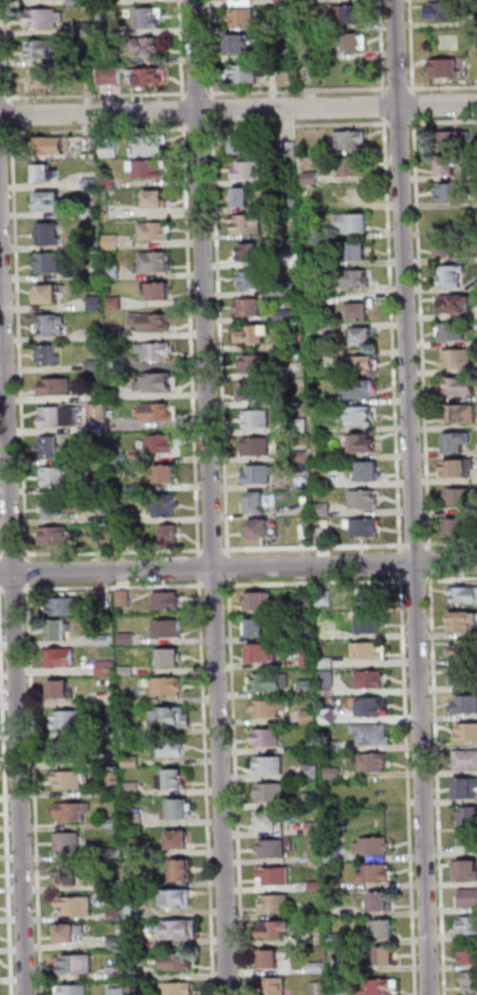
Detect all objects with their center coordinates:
building: (287, 2)
building: (244, 3)
building: (445, 14)
building: (350, 16)
building: (44, 17)
building: (146, 17)
building: (245, 18)
building: (288, 25)
building: (314, 25)
building: (350, 42)
building: (143, 45)
building: (241, 45)
building: (42, 47)
road: (384, 47)
road: (414, 47)
road: (212, 49)
building: (313, 54)
building: (286, 55)
building: (447, 70)
building: (250, 74)
building: (108, 75)
building: (143, 75)
building: (43, 79)
road: (444, 87)
road: (401, 88)
road: (300, 90)
road: (204, 93)
road: (416, 105)
road: (385, 106)
road: (214, 110)
road: (238, 110)
road: (186, 117)
road: (13, 121)
road: (444, 123)
road: (402, 124)
road: (301, 126)
road: (200, 127)
road: (99, 129)
road: (4, 133)
building: (350, 140)
building: (455, 140)
building: (51, 147)
building: (152, 147)
building: (243, 147)
building: (289, 149)
building: (111, 150)
building: (355, 167)
building: (148, 169)
building: (449, 170)
building: (251, 172)
building: (45, 173)
building: (313, 178)
building: (292, 181)
building: (110, 184)
building: (92, 185)
building: (454, 192)
building: (352, 195)
building: (244, 200)
building: (157, 201)
building: (51, 204)
building: (292, 206)
building: (91, 214)
building: (354, 223)
building: (248, 227)
building: (156, 232)
building: (50, 236)
building: (113, 242)
building: (96, 247)
building: (449, 249)
building: (360, 252)
building: (255, 254)
building: (294, 261)
building: (317, 261)
building: (157, 263)
building: (52, 264)
building: (114, 273)
building: (454, 277)
building: (354, 279)
building: (254, 281)
building: (318, 286)
building: (286, 288)
building: (159, 292)
building: (50, 295)
building: (116, 303)
building: (96, 304)
building: (457, 306)
building: (250, 308)
building: (358, 312)
building: (287, 316)
building: (152, 322)
building: (53, 326)
building: (455, 332)
building: (117, 333)
road: (394, 334)
building: (97, 335)
building: (256, 336)
road: (222, 338)
building: (365, 338)
road: (193, 340)
building: (300, 343)
road: (21, 344)
building: (317, 344)
road: (424, 345)
building: (156, 352)
building: (50, 356)
building: (460, 359)
building: (257, 364)
building: (97, 366)
building: (119, 366)
building: (360, 366)
building: (156, 384)
building: (463, 387)
building: (58, 388)
building: (361, 389)
building: (252, 392)
building: (290, 400)
building: (325, 400)
building: (158, 413)
building: (463, 413)
building: (99, 414)
building: (113, 414)
building: (362, 416)
building: (60, 418)
building: (258, 420)
building: (302, 427)
building: (100, 432)
building: (458, 443)
building: (364, 444)
building: (162, 445)
building: (257, 447)
building: (51, 448)
building: (304, 457)
building: (121, 458)
building: (460, 469)
building: (369, 473)
building: (260, 474)
building: (168, 475)
building: (56, 477)
building: (324, 483)
building: (103, 486)
road: (213, 497)
road: (414, 497)
building: (462, 498)
building: (365, 500)
building: (257, 503)
building: (165, 506)
building: (60, 508)
building: (324, 511)
building: (124, 517)
building: (365, 527)
building: (463, 527)
building: (259, 530)
building: (325, 535)
building: (171, 536)
building: (57, 537)
road: (451, 544)
road: (416, 545)
road: (316, 548)
road: (215, 550)
road: (115, 553)
road: (2, 555)
road: (14, 555)
road: (0, 558)
road: (14, 564)
road: (402, 564)
road: (230, 567)
road: (238, 567)
road: (200, 569)
road: (0, 572)
road: (28, 572)
road: (452, 580)
road: (417, 581)
road: (317, 583)
road: (216, 585)
road: (115, 588)
road: (15, 589)
road: (3, 590)
building: (466, 596)
building: (125, 598)
building: (308, 599)
building: (326, 599)
building: (372, 602)
building: (168, 603)
building: (261, 603)
building: (64, 607)
building: (463, 622)
building: (370, 625)
building: (258, 630)
building: (168, 631)
building: (59, 632)
building: (308, 633)
building: (330, 633)
building: (128, 639)
building: (106, 640)
building: (370, 651)
building: (466, 651)
building: (262, 656)
building: (309, 659)
building: (63, 660)
building: (171, 661)
building: (328, 664)
building: (107, 669)
building: (128, 671)
building: (462, 676)
building: (371, 681)
building: (272, 683)
building: (329, 685)
building: (169, 687)
building: (310, 689)
building: (61, 690)
building: (467, 705)
building: (270, 709)
building: (374, 709)
building: (329, 716)
building: (312, 717)
building: (71, 719)
building: (173, 720)
building: (109, 728)
building: (129, 729)
building: (468, 731)
building: (374, 736)
building: (268, 738)
building: (311, 747)
building: (333, 747)
building: (65, 751)
building: (172, 752)
building: (467, 761)
building: (133, 762)
building: (375, 763)
building: (272, 766)
building: (312, 772)
building: (335, 774)
building: (71, 780)
building: (173, 783)
road: (440, 784)
road: (410, 785)
road: (238, 786)
road: (208, 787)
road: (7, 788)
building: (468, 788)
road: (36, 789)
building: (133, 790)
building: (113, 793)
building: (273, 793)
building: (313, 799)
building: (74, 812)
building: (180, 812)
building: (135, 820)
building: (113, 824)
building: (270, 825)
building: (469, 826)
building: (315, 829)
building: (180, 842)
building: (70, 843)
building: (374, 847)
building: (275, 849)
building: (135, 852)
building: (114, 854)
building: (335, 854)
building: (182, 873)
building: (466, 873)
building: (378, 874)
building: (68, 876)
building: (275, 877)
building: (134, 884)
building: (115, 885)
building: (336, 885)
building: (318, 886)
building: (178, 900)
building: (469, 900)
building: (381, 902)
building: (277, 905)
building: (77, 906)
building: (134, 912)
building: (337, 912)
building: (118, 915)
building: (470, 926)
building: (384, 929)
building: (277, 930)
building: (182, 931)
building: (71, 935)
building: (338, 939)
building: (119, 942)
building: (136, 942)
building: (471, 956)
building: (387, 959)
building: (272, 961)
building: (180, 963)
building: (78, 964)
building: (318, 967)
building: (120, 974)
building: (471, 985)
building: (278, 986)
building: (379, 988)
building: (182, 989)
building: (321, 989)
building: (341, 989)
building: (74, 990)
building: (119, 991)
building: (140, 991)

